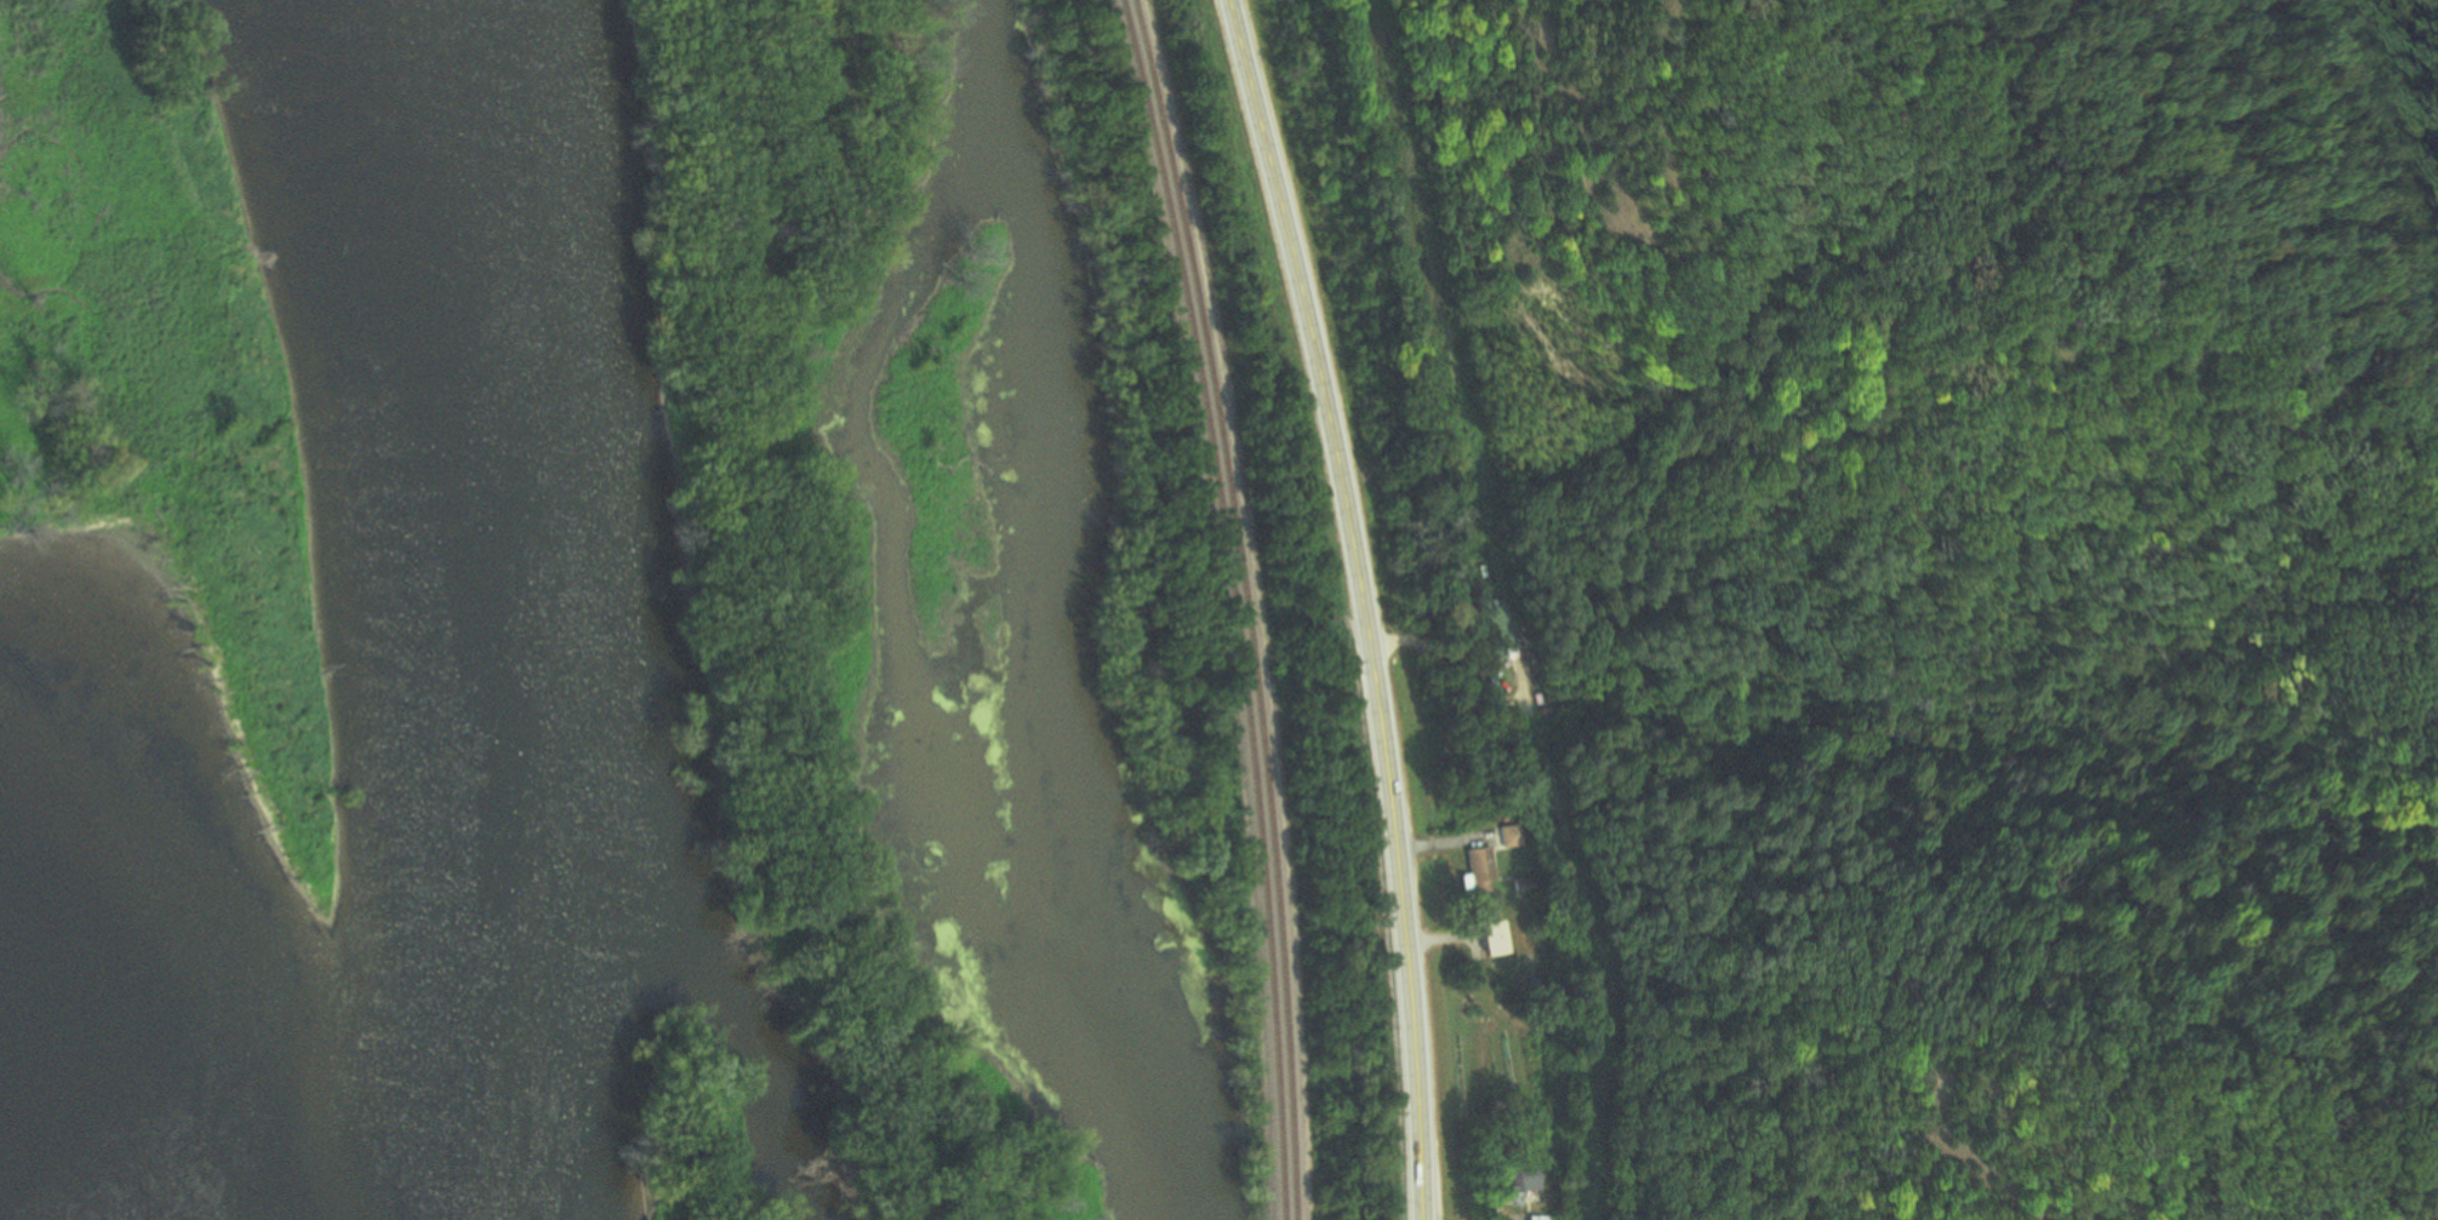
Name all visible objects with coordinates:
railway: (1238, 605)
railway: (1252, 605)
road: (1363, 605)
river: (410, 608)
building: (1478, 869)
building: (1512, 1179)
building: (1546, 1216)

